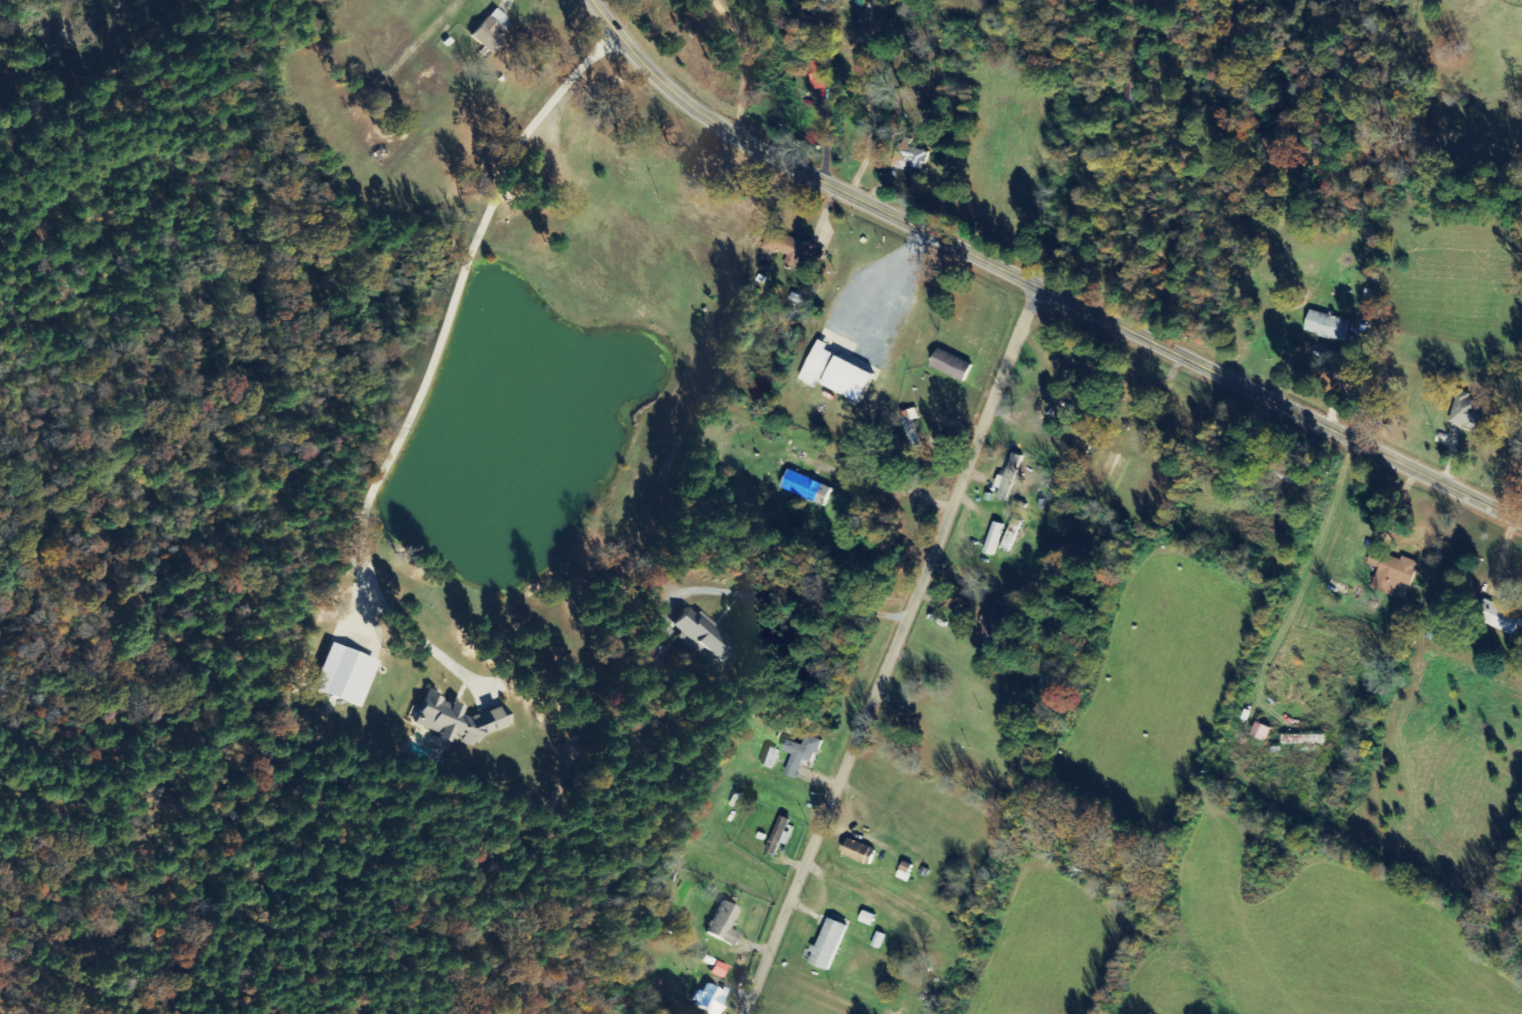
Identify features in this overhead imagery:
building: (492, 32)
building: (823, 75)
building: (910, 154)
building: (792, 248)
road: (1037, 287)
building: (1331, 327)
building: (956, 366)
building: (841, 374)
building: (1474, 414)
building: (1012, 479)
building: (809, 489)
building: (1012, 541)
building: (1395, 573)
building: (1507, 621)
building: (994, 625)
building: (705, 637)
building: (1450, 642)
road: (900, 652)
building: (654, 657)
building: (347, 675)
building: (460, 720)
building: (1265, 733)
building: (1307, 741)
building: (804, 755)
building: (773, 759)
building: (783, 836)
building: (908, 873)
building: (726, 924)
building: (832, 945)
building: (720, 970)
building: (711, 999)

